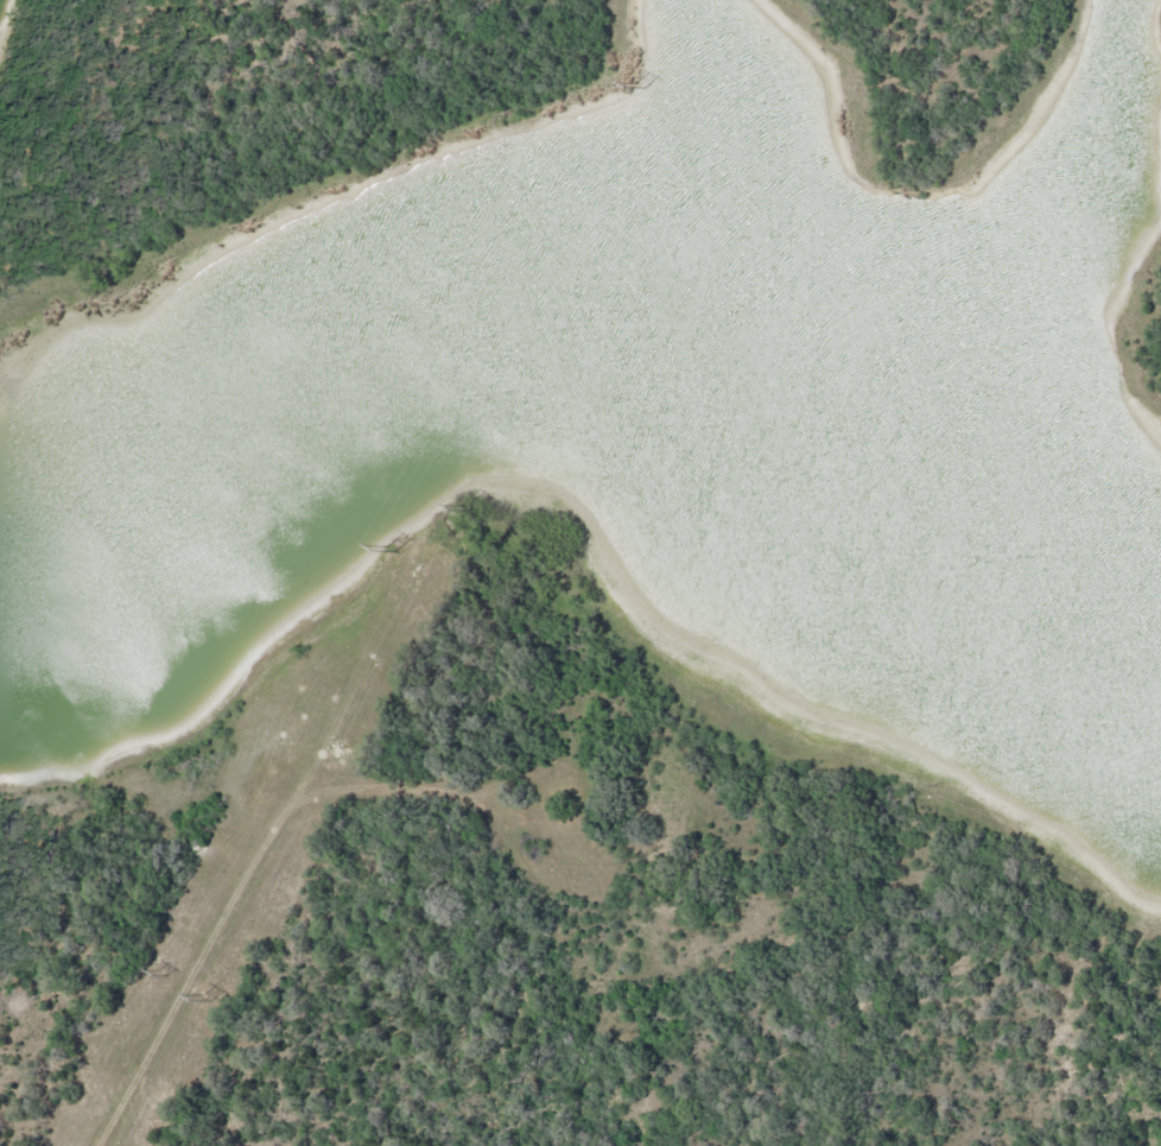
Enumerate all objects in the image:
power tower: (639, 84)
power tower: (469, 508)
power tower: (393, 549)
road: (202, 944)
power tower: (164, 974)
power tower: (207, 999)

